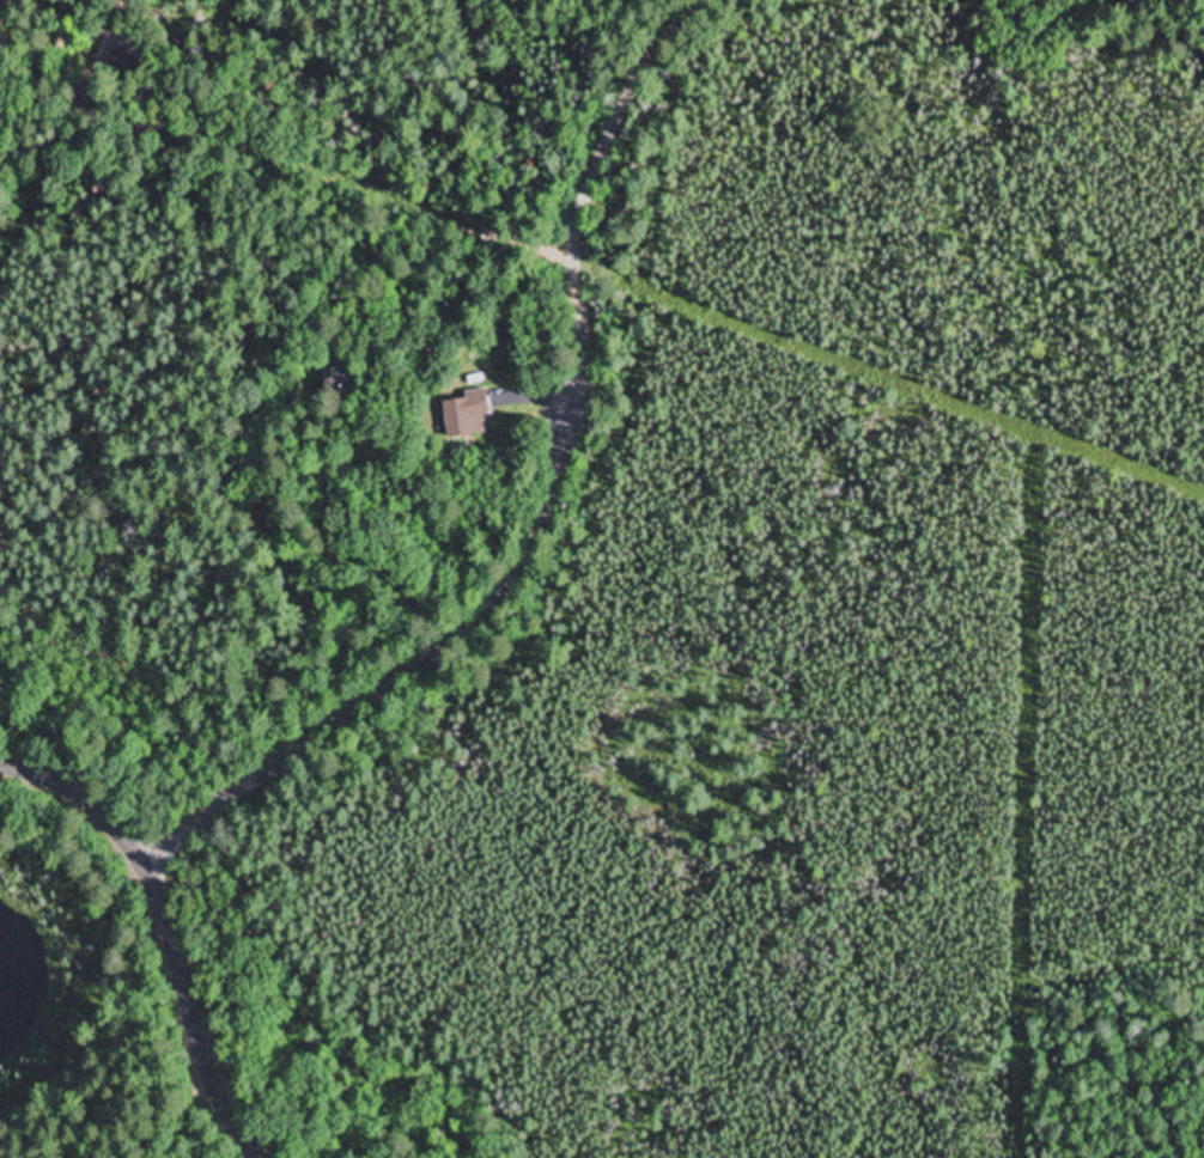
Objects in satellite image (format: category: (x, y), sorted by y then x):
road: (619, 124)
road: (312, 191)
building: (464, 415)
road: (460, 626)
road: (165, 931)

